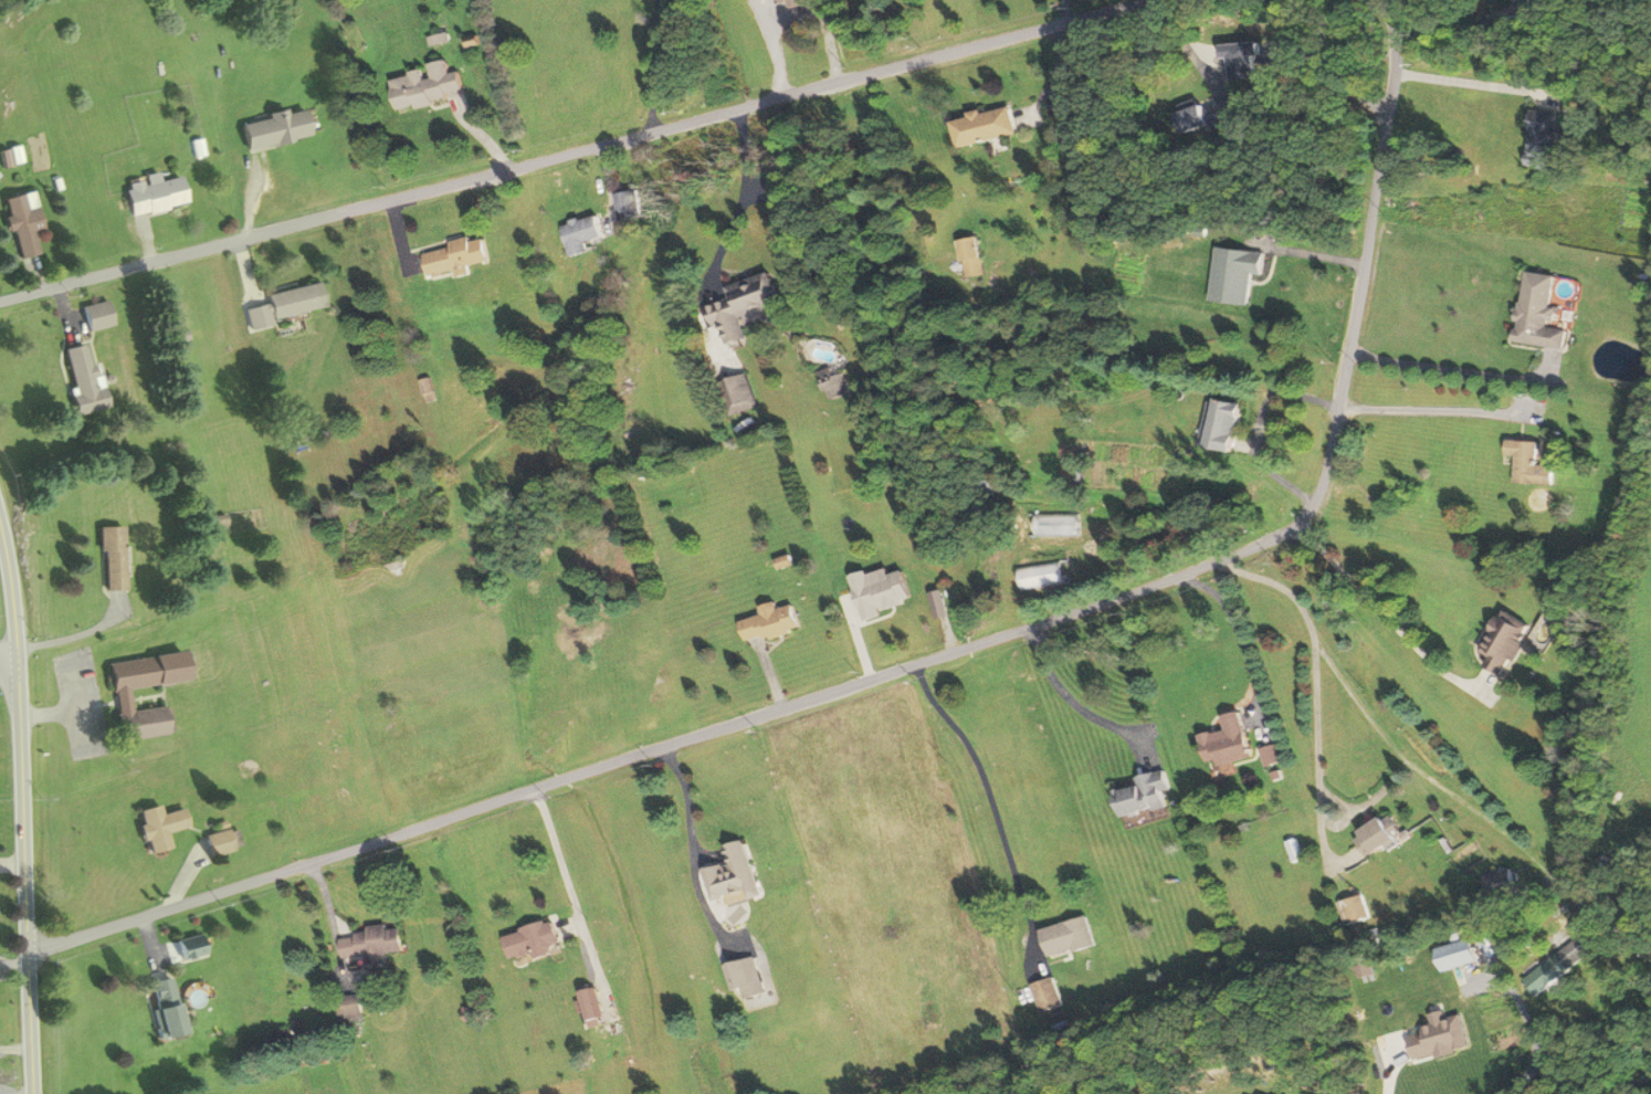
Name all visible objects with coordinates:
building: (1517, 0)
building: (788, 1)
road: (1068, 12)
building: (425, 86)
building: (1201, 118)
building: (984, 126)
building: (274, 129)
building: (1543, 140)
road: (585, 148)
building: (155, 194)
building: (628, 203)
building: (23, 223)
building: (581, 233)
road: (1308, 254)
building: (458, 255)
building: (972, 256)
building: (1234, 274)
building: (283, 304)
building: (743, 306)
building: (1537, 313)
road: (1449, 368)
building: (82, 379)
building: (833, 385)
building: (740, 393)
road: (1428, 410)
building: (1227, 424)
building: (1529, 462)
building: (113, 558)
building: (770, 622)
road: (1241, 632)
building: (1505, 642)
road: (6, 644)
road: (919, 659)
building: (123, 696)
road: (9, 702)
road: (1075, 702)
building: (1229, 740)
building: (1271, 755)
building: (1145, 792)
building: (1631, 802)
road: (20, 824)
building: (159, 825)
building: (1375, 835)
building: (221, 839)
building: (734, 874)
building: (1355, 907)
building: (1069, 936)
building: (533, 940)
building: (371, 944)
building: (1459, 954)
building: (1558, 962)
building: (753, 982)
building: (1047, 993)
building: (166, 1002)
building: (349, 1006)
building: (588, 1006)
building: (1439, 1037)
road: (1621, 1062)
road: (14, 1092)

